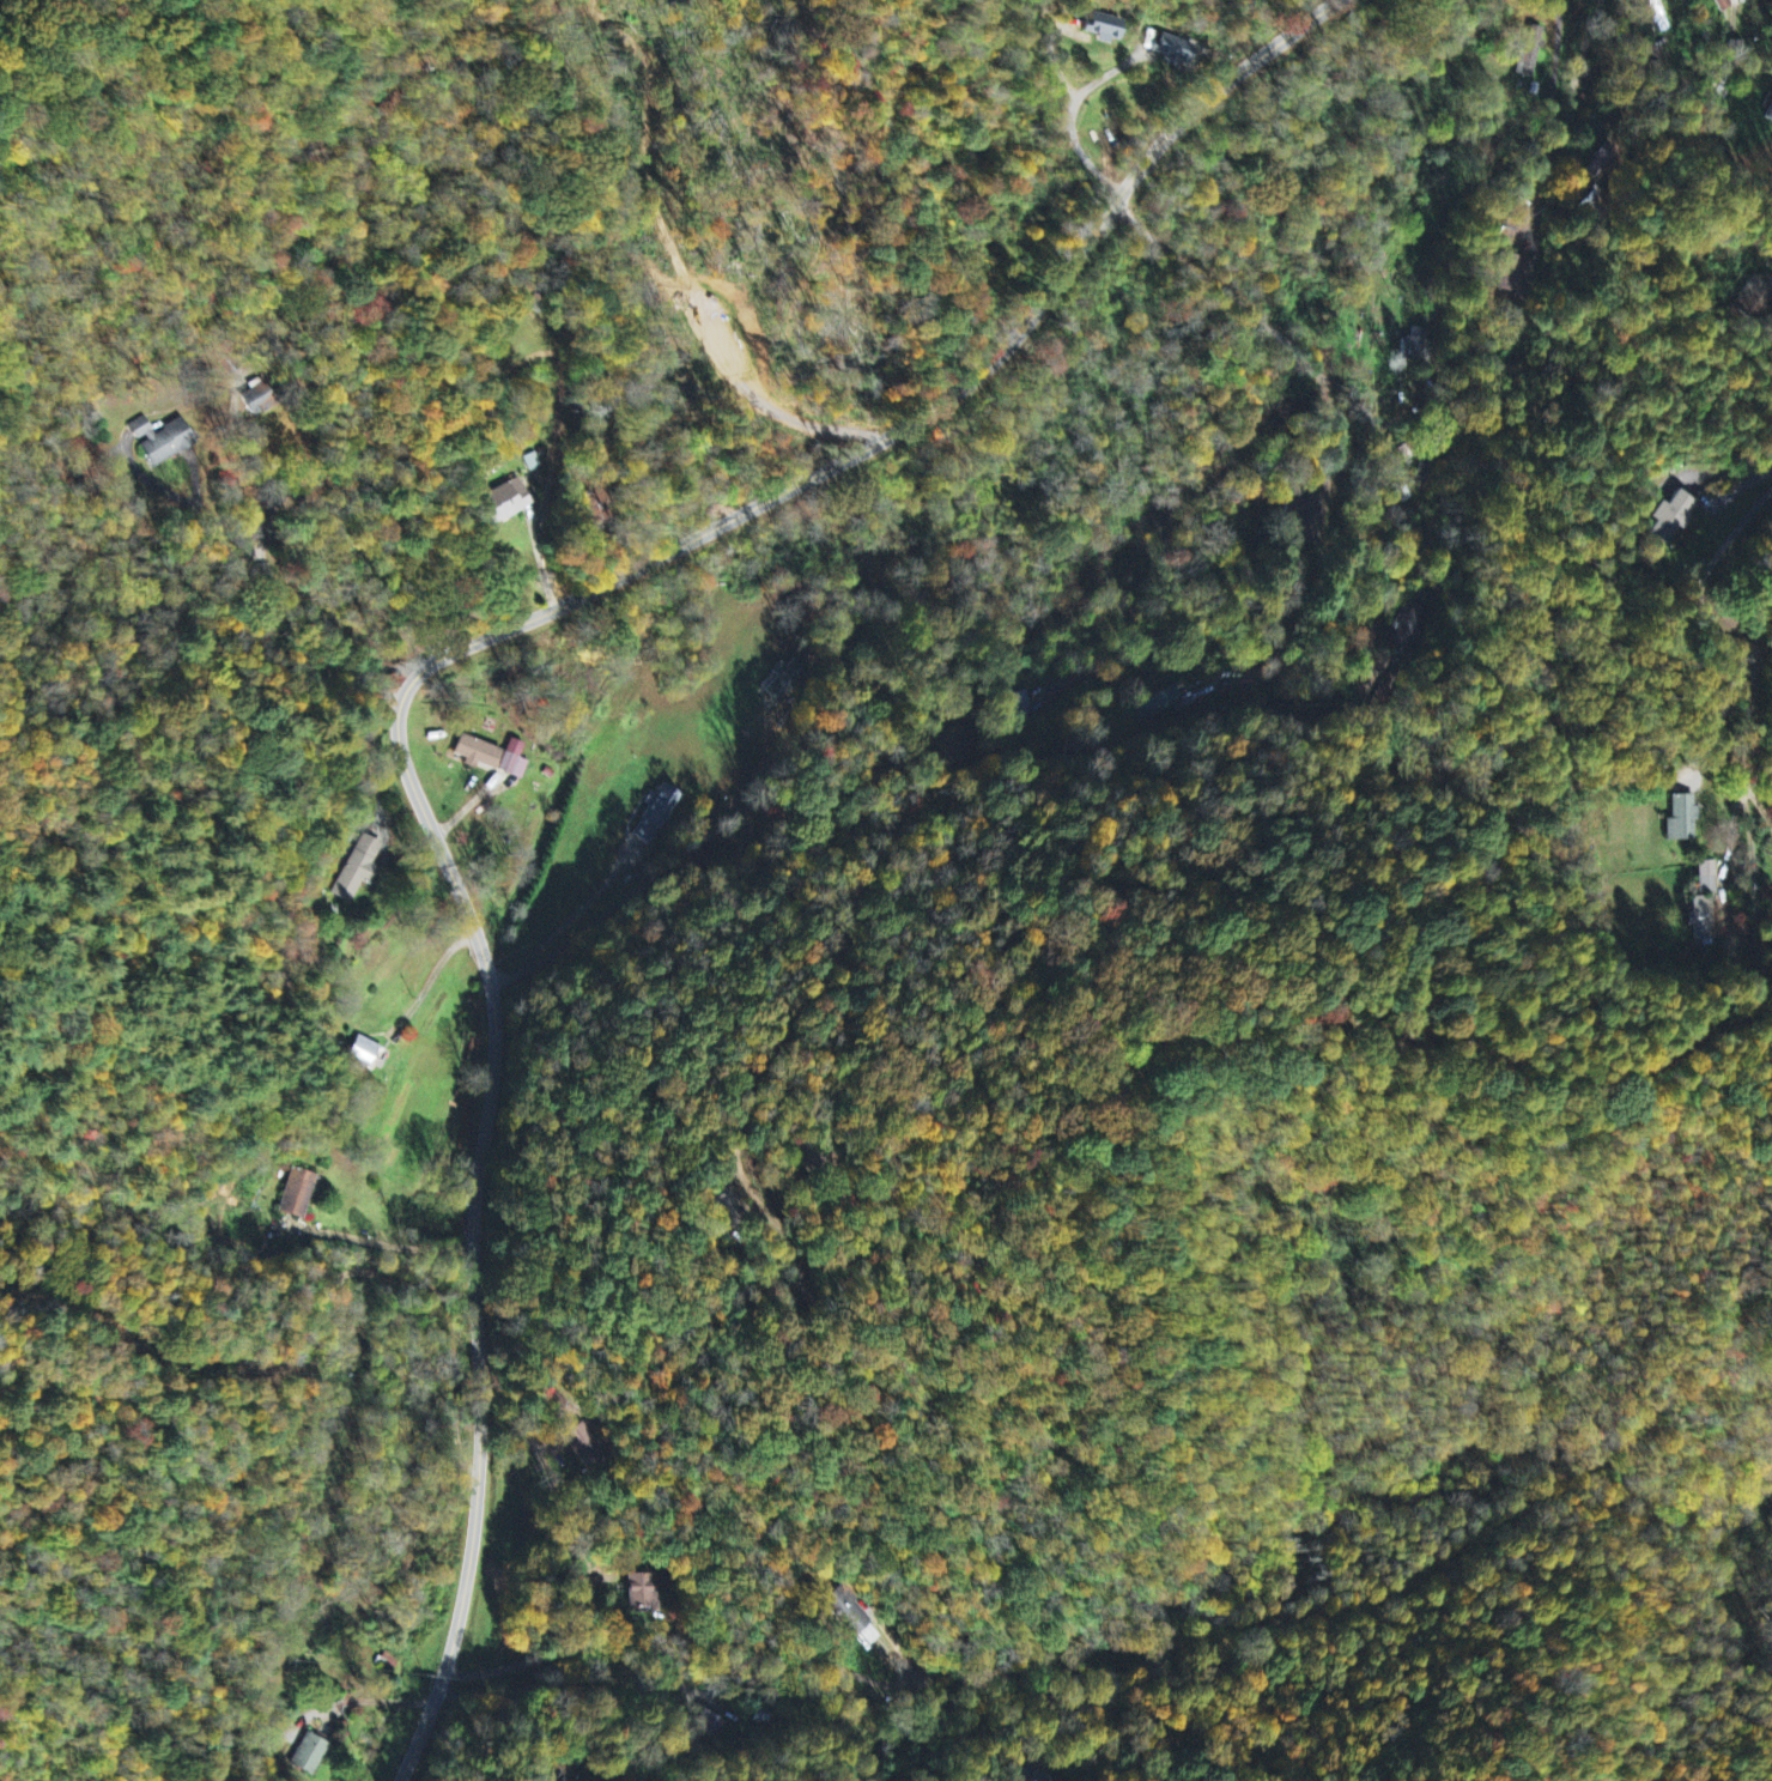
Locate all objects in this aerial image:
building: (1719, 5)
building: (1107, 28)
road: (1590, 47)
building: (1176, 52)
building: (1531, 61)
building: (1768, 114)
building: (1595, 158)
building: (1414, 344)
road: (1333, 393)
building: (1670, 519)
building: (1409, 630)
road: (1724, 631)
road: (426, 667)
building: (788, 680)
building: (1163, 703)
road: (892, 704)
building: (492, 757)
building: (655, 816)
building: (1683, 819)
building: (358, 878)
building: (1705, 905)
building: (366, 1052)
building: (297, 1194)
building: (583, 1446)
building: (1039, 1777)

